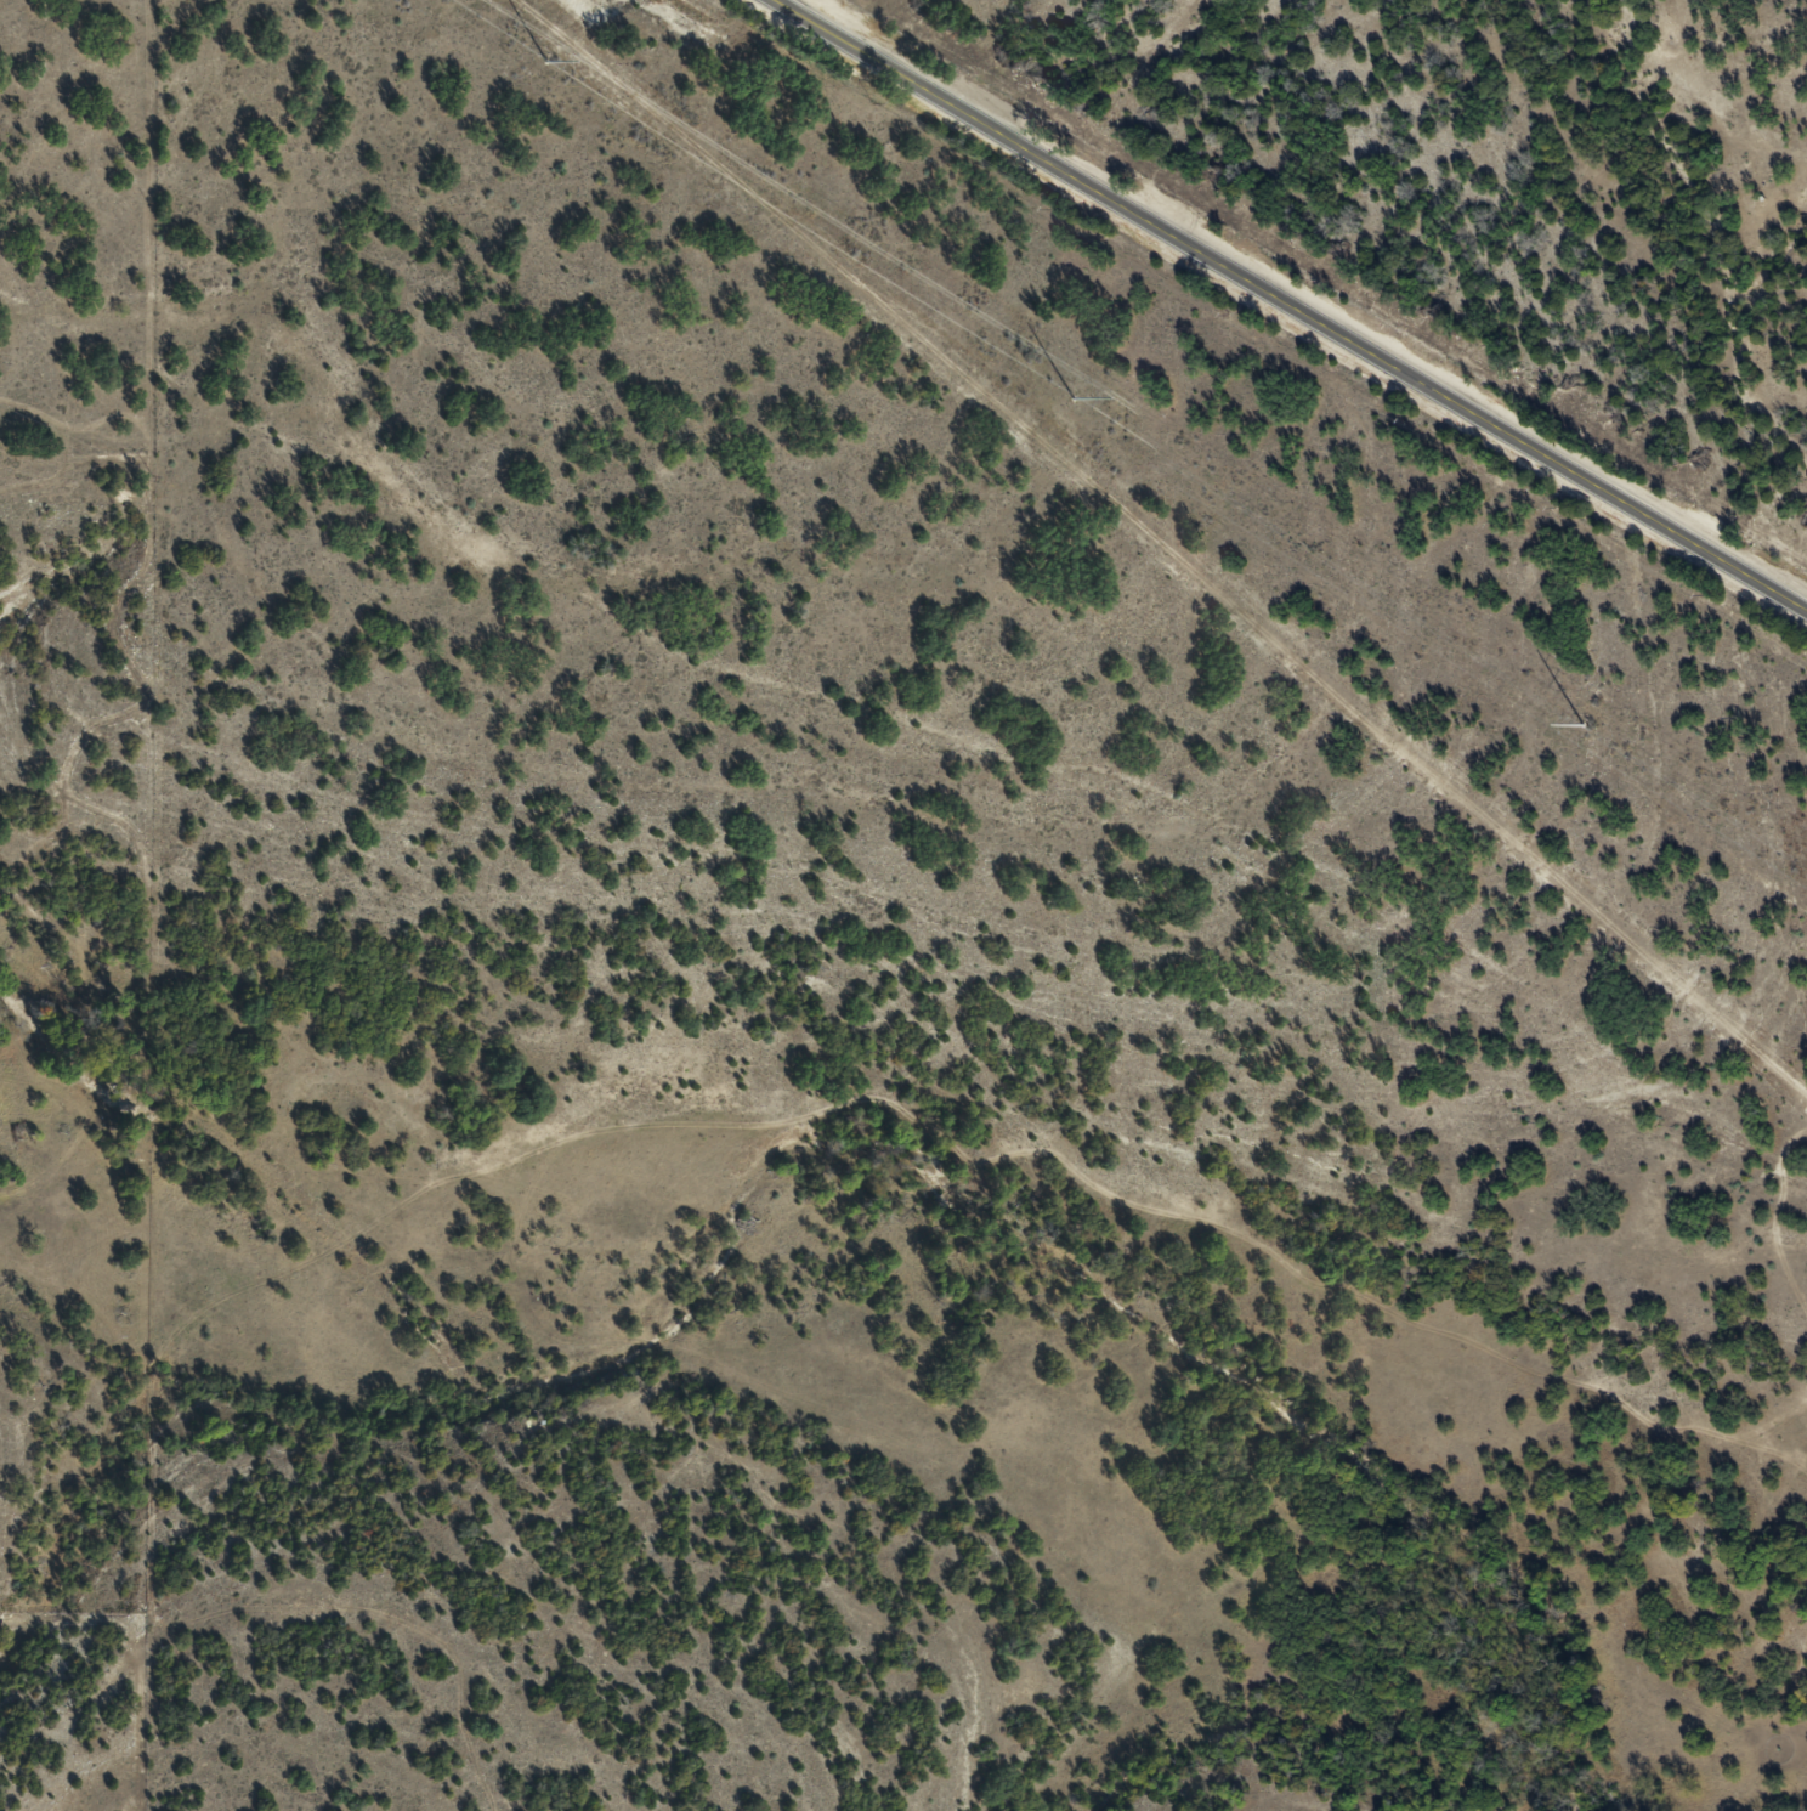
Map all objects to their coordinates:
power tower: (544, 62)
road: (1291, 304)
power tower: (1071, 401)
power tower: (1579, 725)

